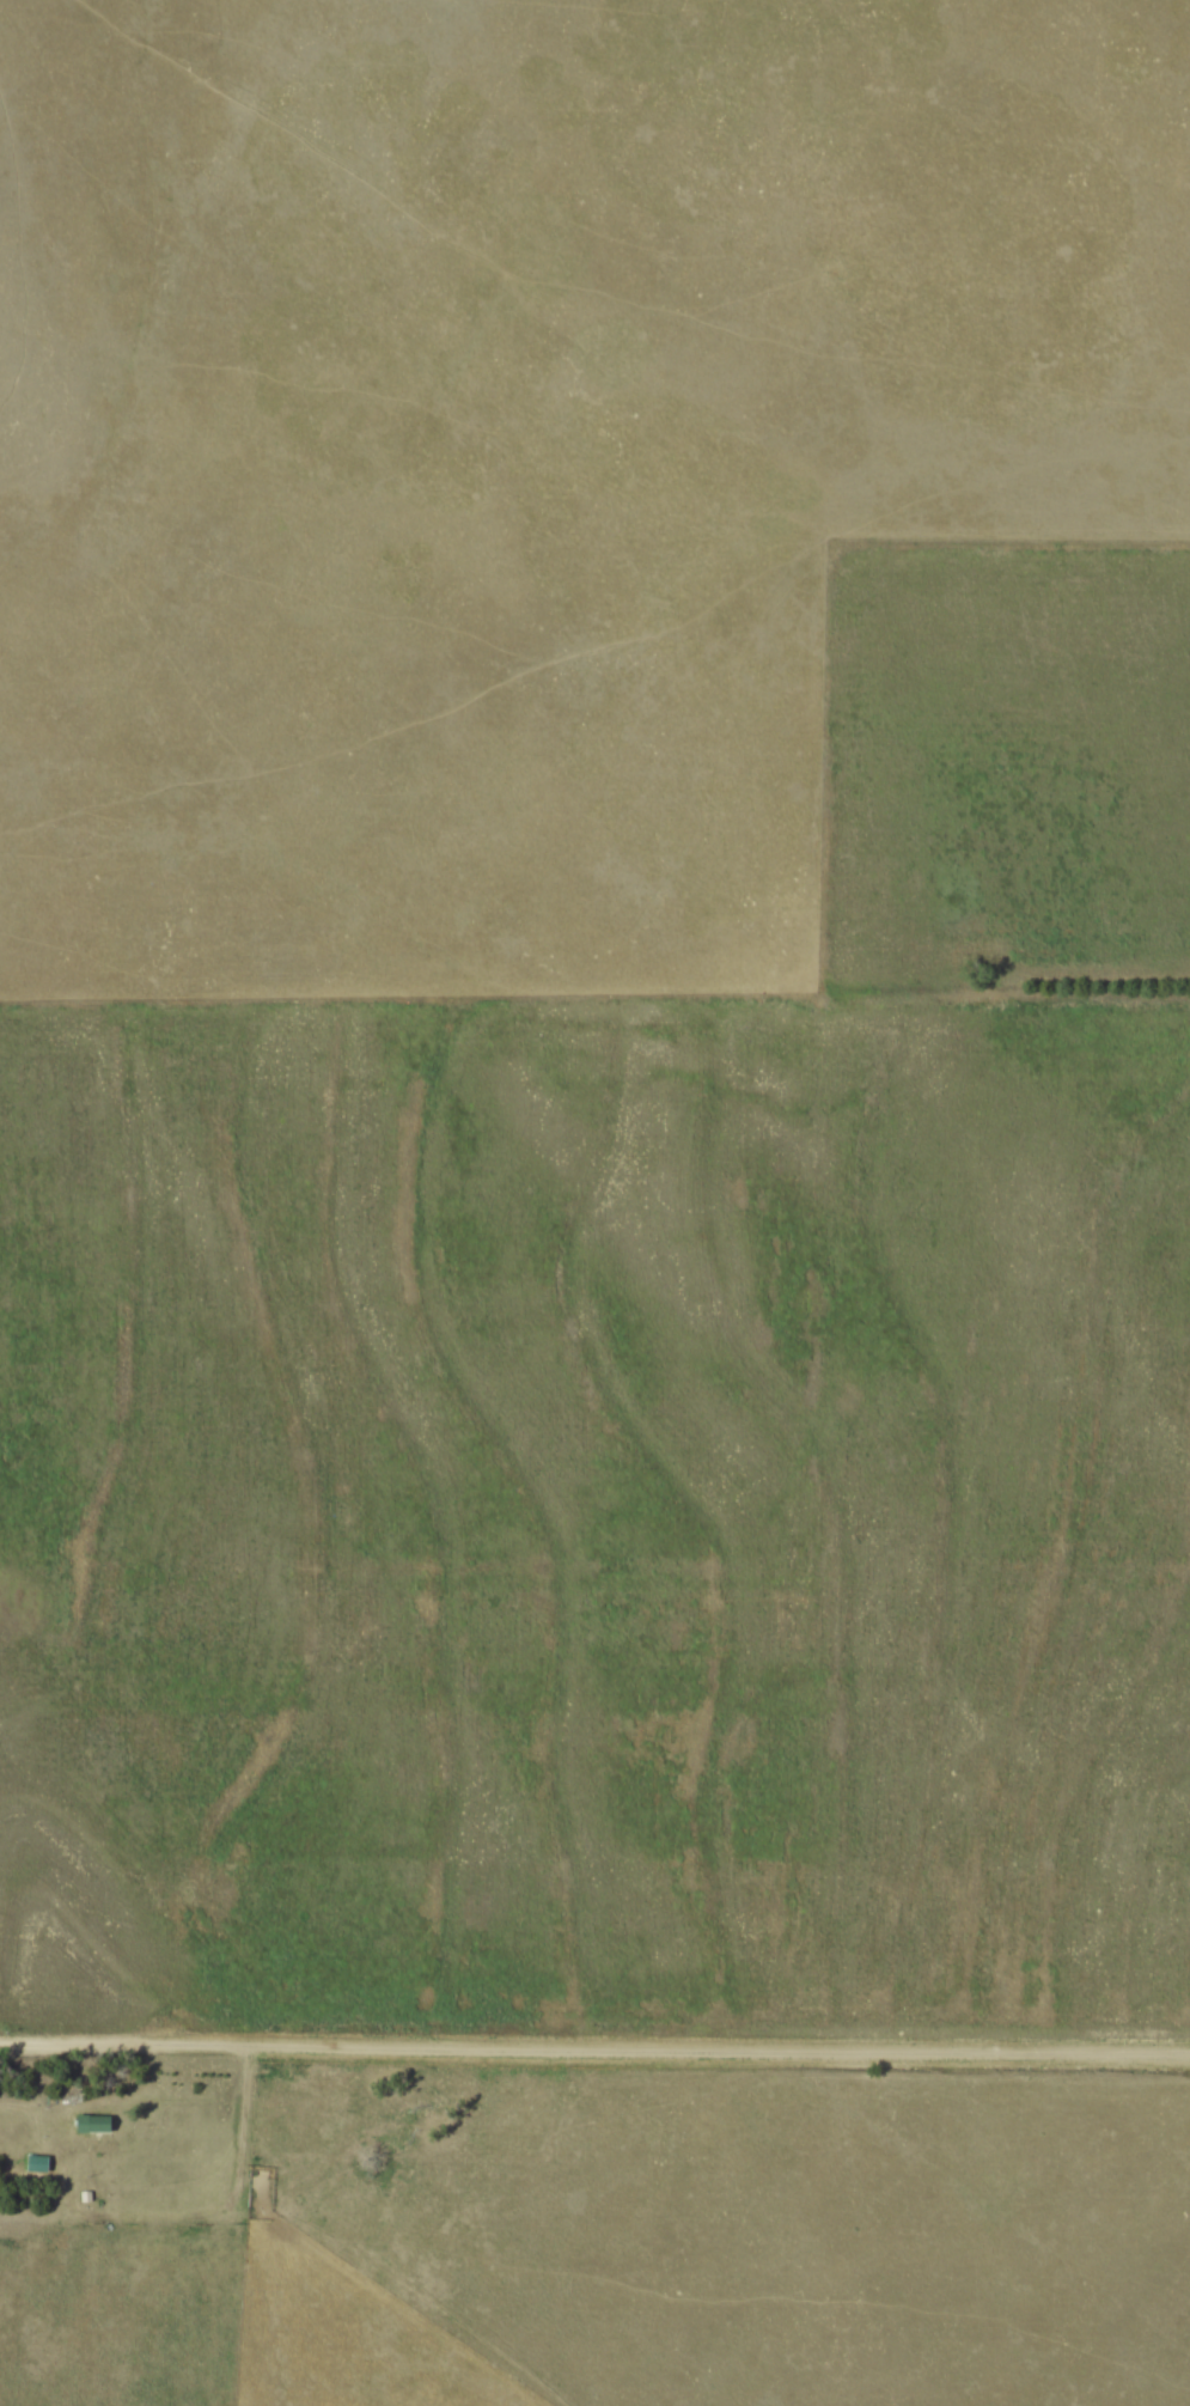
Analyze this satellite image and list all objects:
road: (594, 2054)
building: (92, 2124)
building: (25, 2169)

